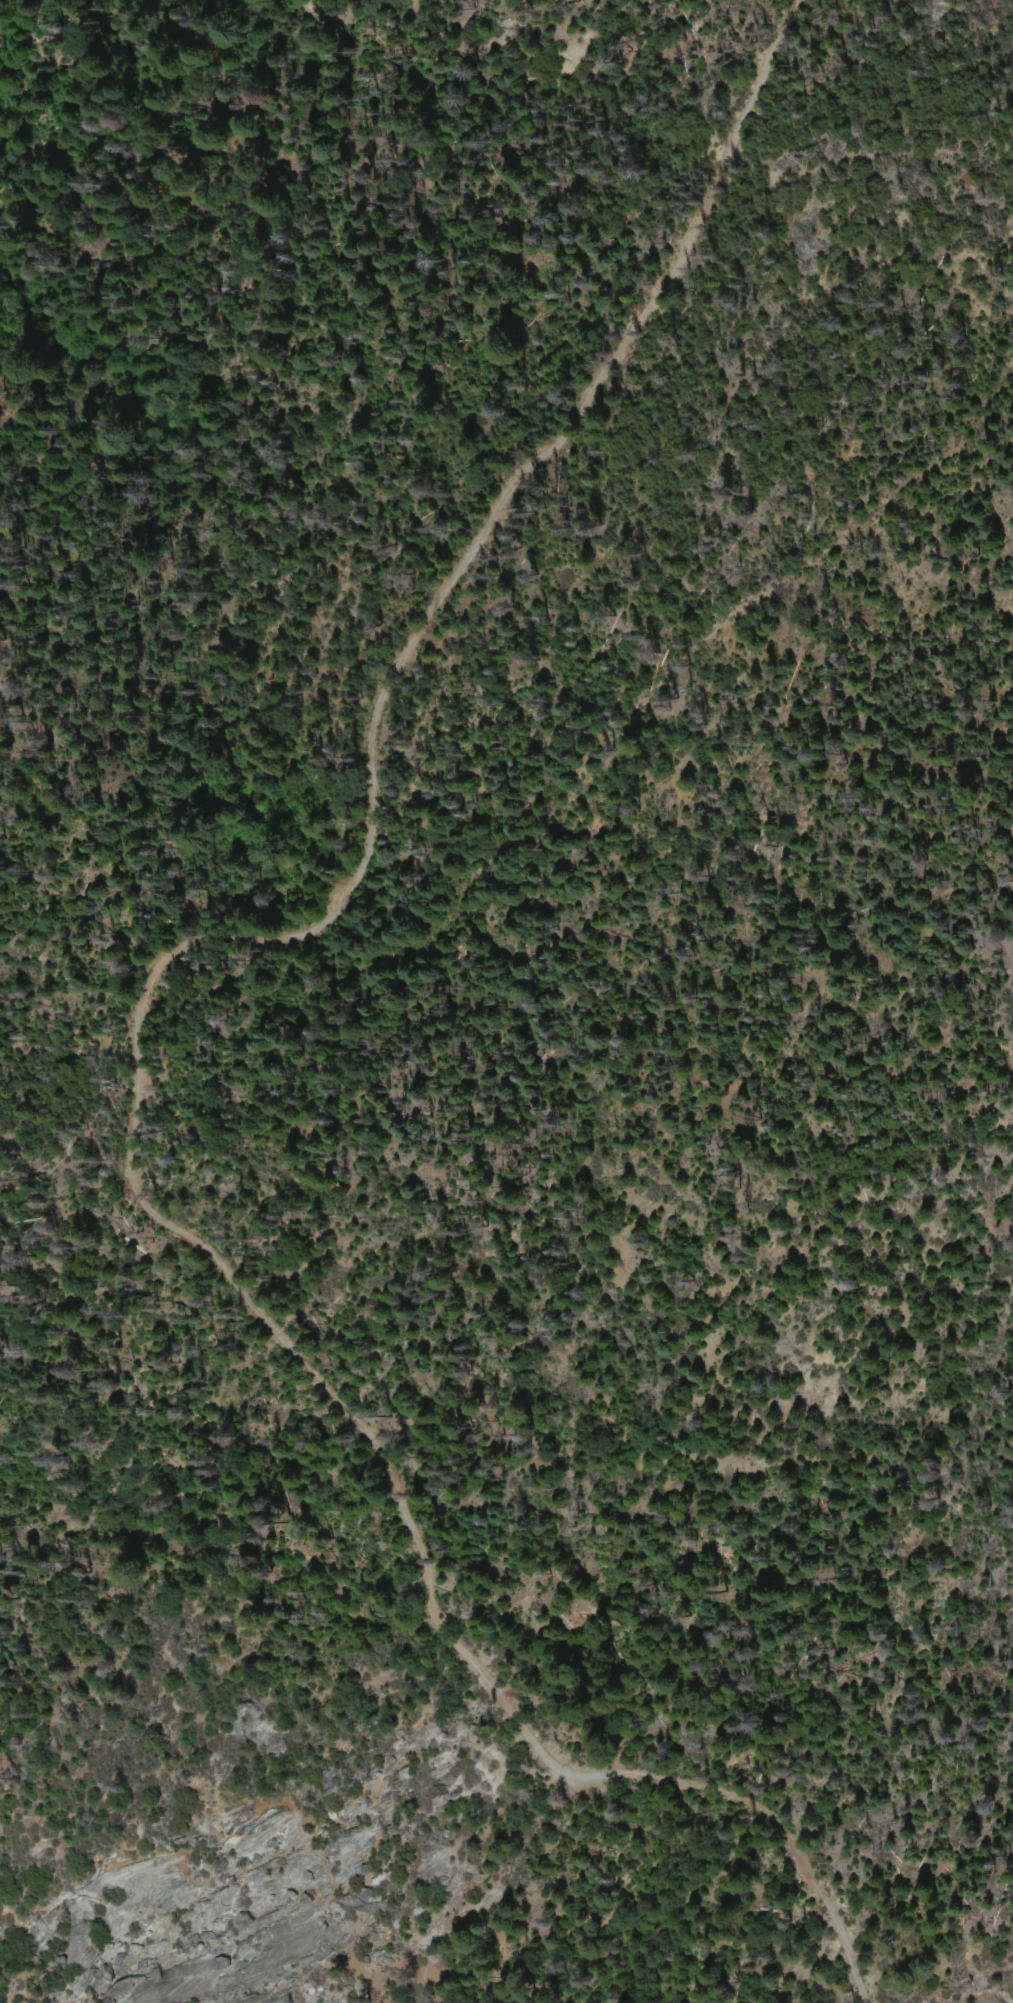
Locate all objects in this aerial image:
road: (144, 1028)

